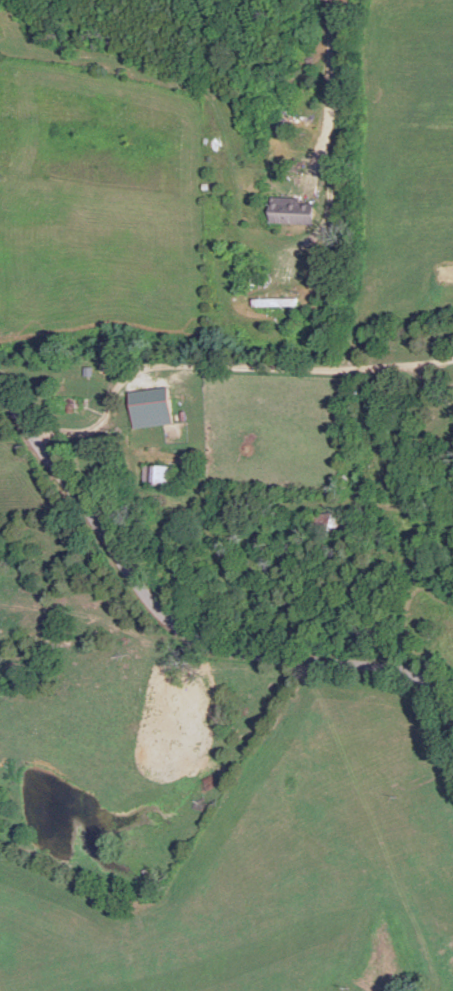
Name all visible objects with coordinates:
road: (331, 101)
building: (295, 209)
building: (277, 299)
building: (108, 359)
building: (161, 472)
building: (324, 519)
road: (169, 639)
road: (445, 681)

